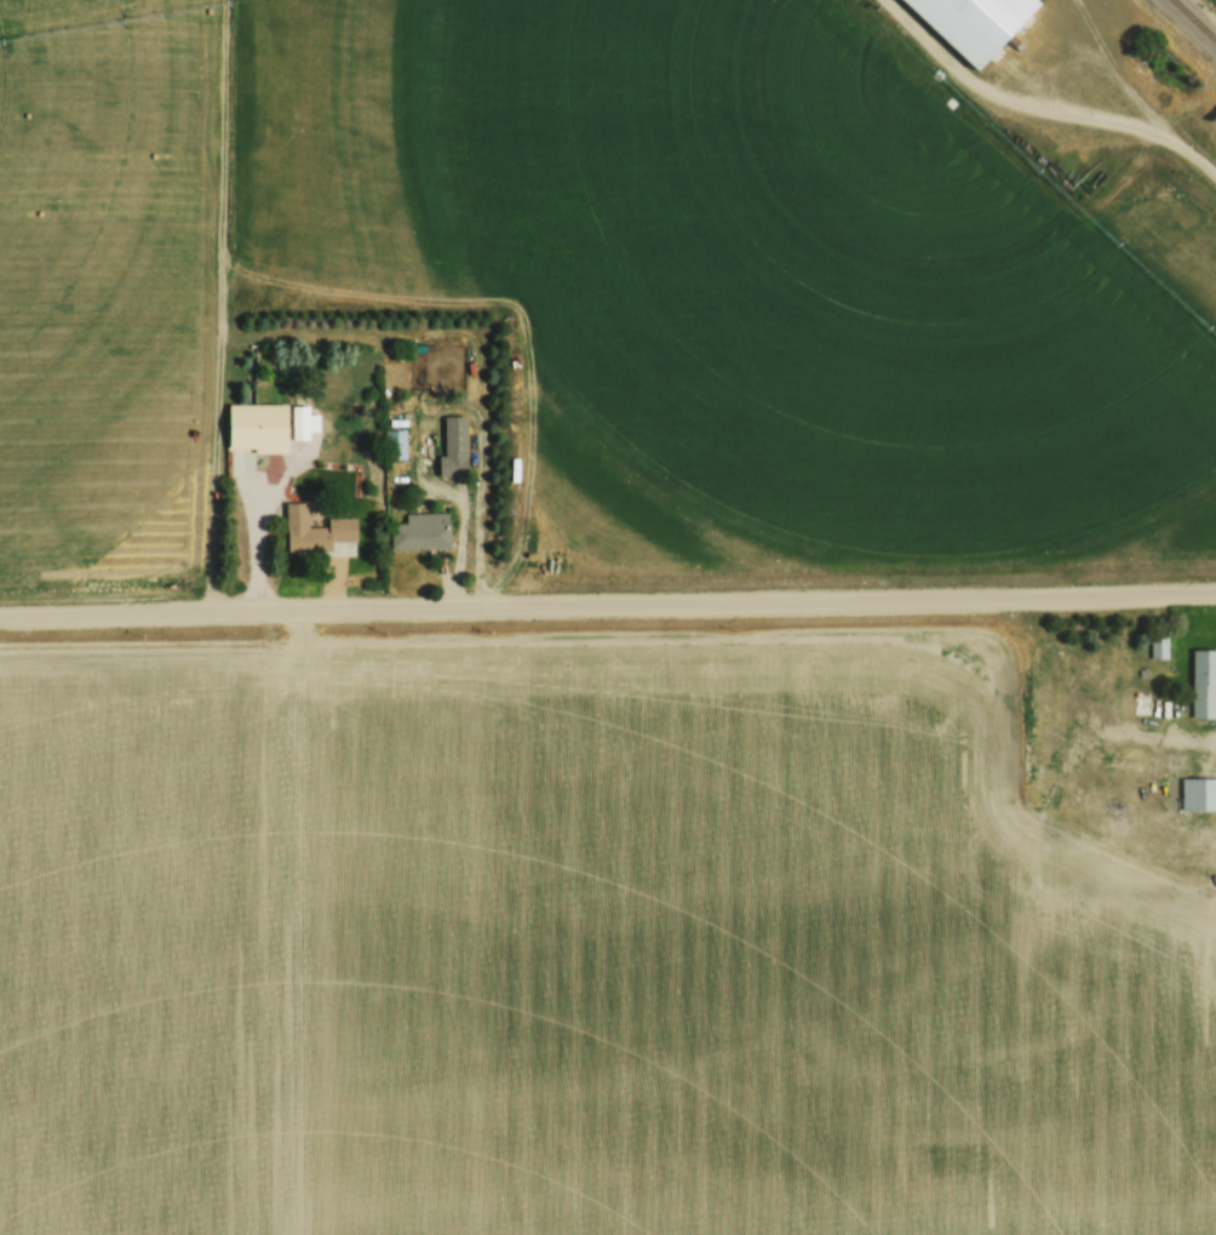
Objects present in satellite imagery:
railway: (1194, 19)
building: (970, 23)
building: (254, 433)
building: (395, 444)
building: (454, 447)
building: (420, 531)
building: (316, 532)
road: (607, 602)
building: (1158, 646)
building: (1203, 682)
building: (1198, 793)
building: (1049, 828)

